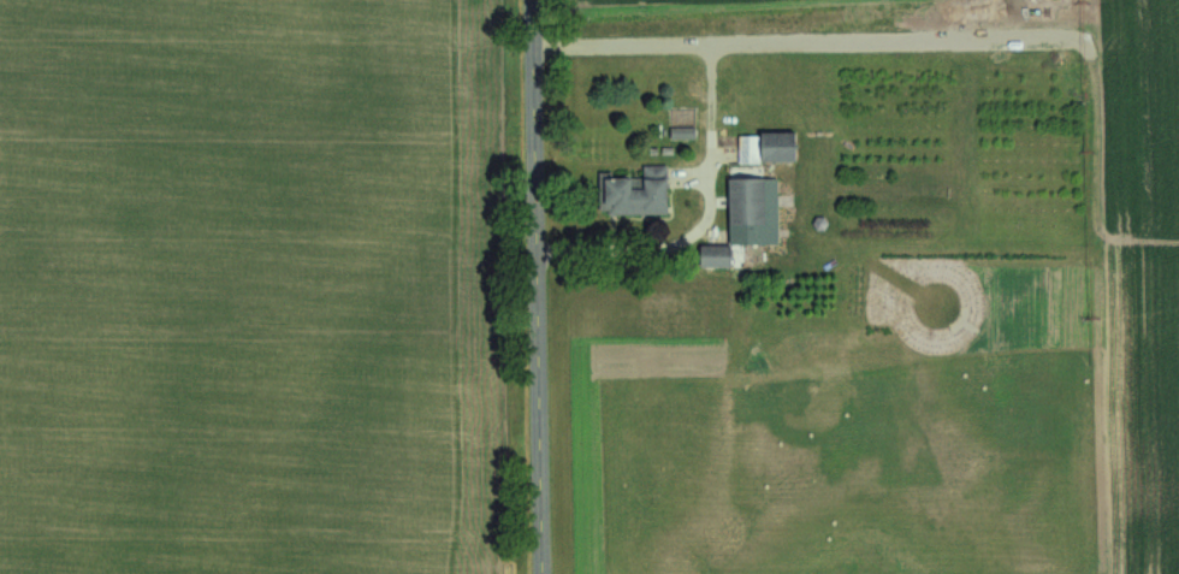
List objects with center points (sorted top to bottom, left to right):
building: (681, 134)
road: (709, 134)
building: (776, 148)
building: (665, 150)
building: (747, 150)
building: (651, 152)
building: (633, 194)
building: (751, 202)
building: (713, 256)
road: (537, 286)
crop: (259, 288)
crop: (1144, 313)

